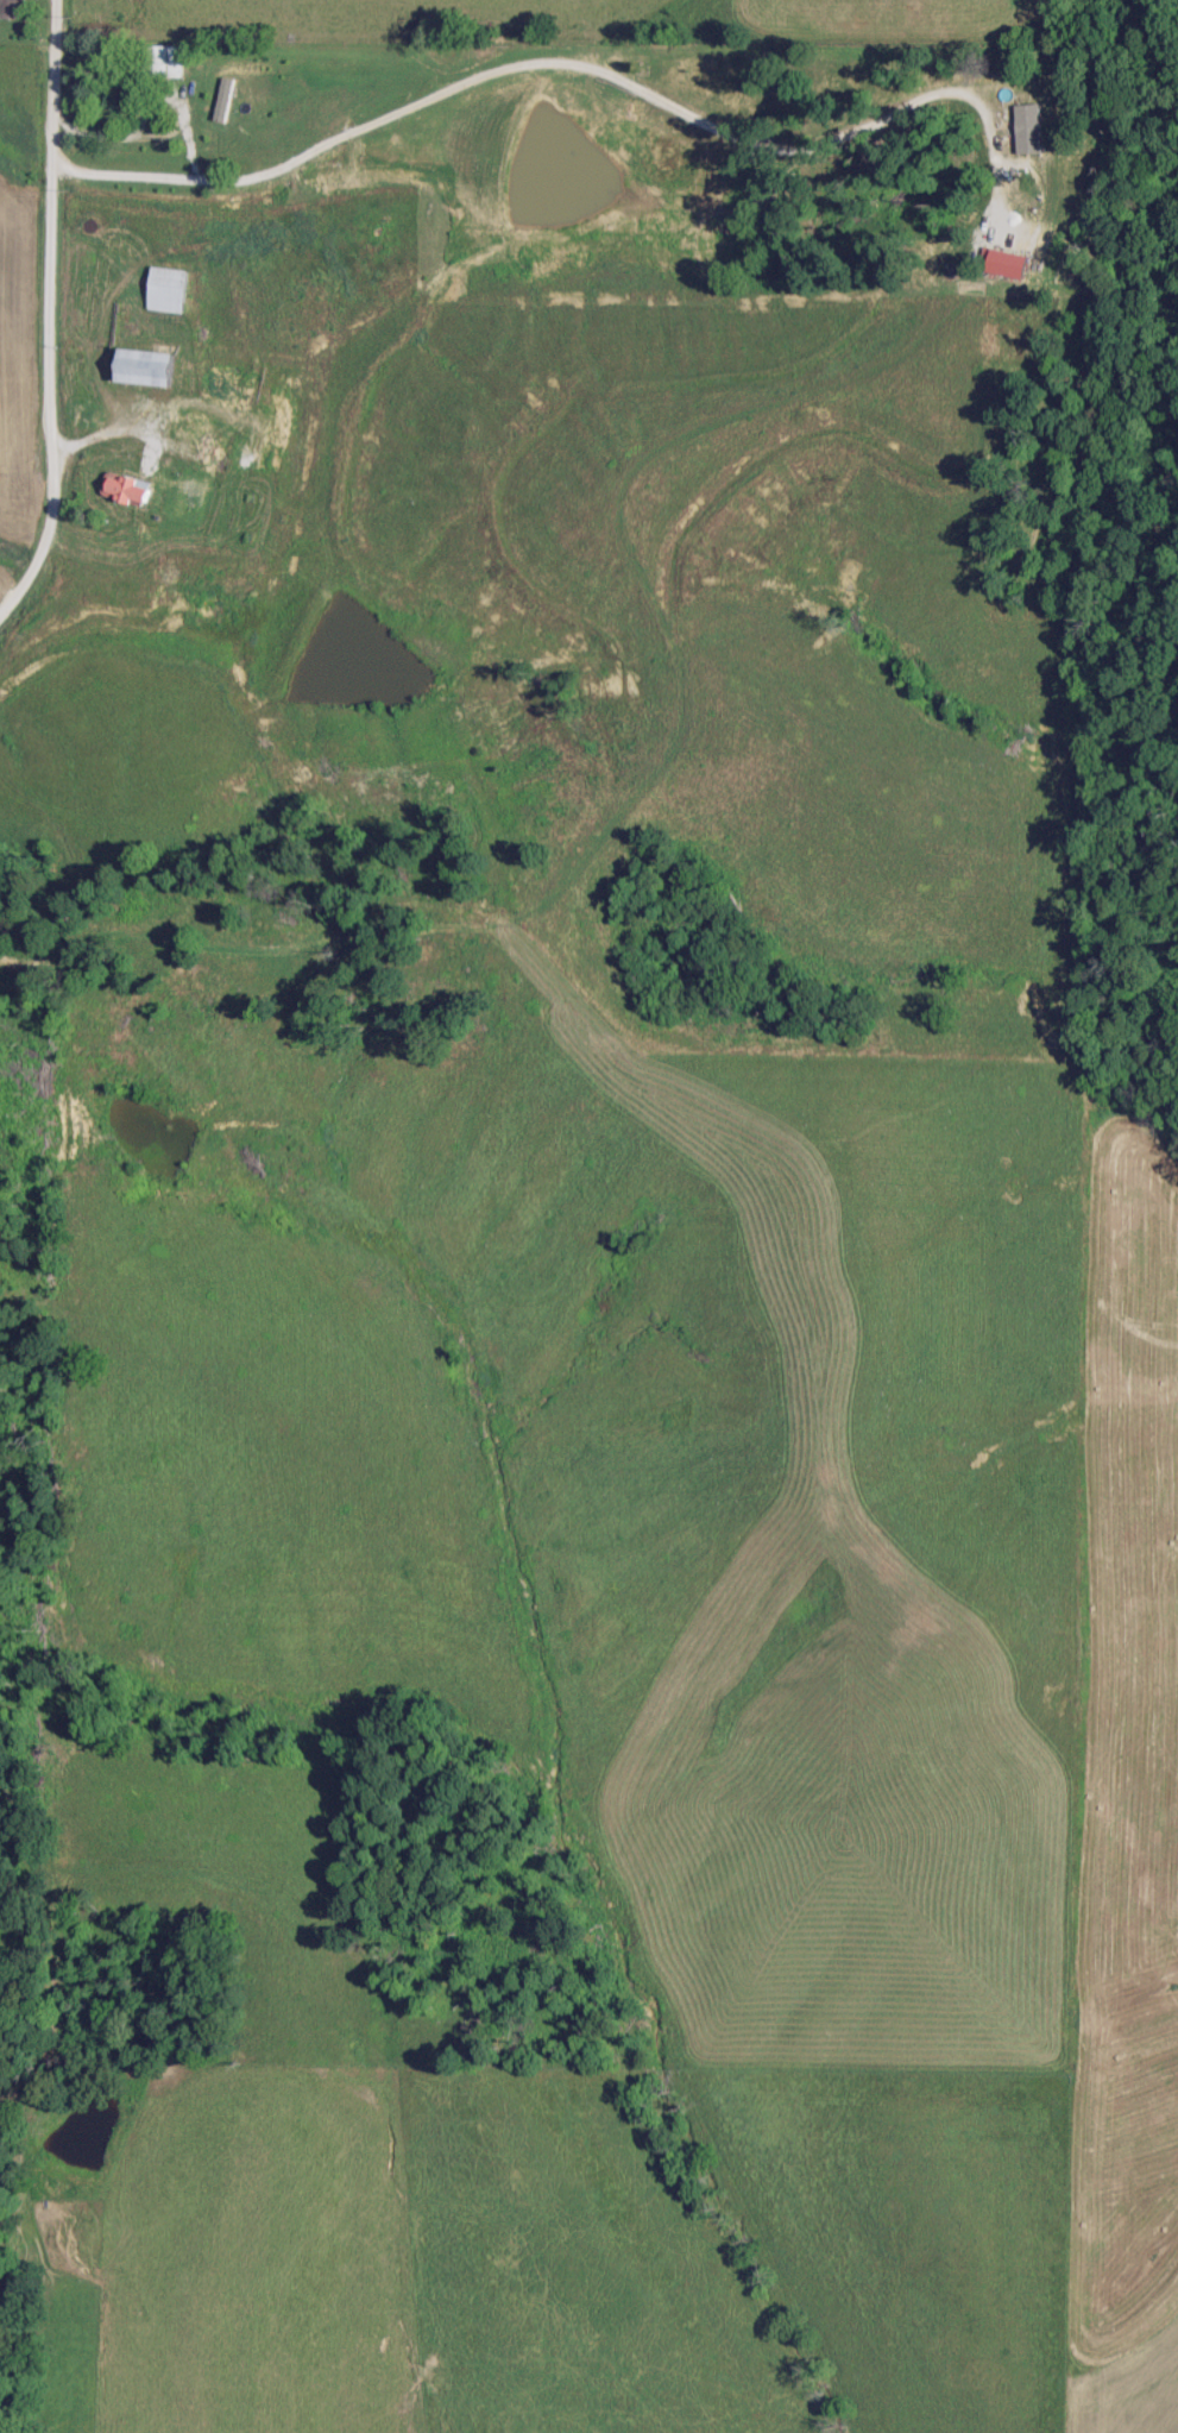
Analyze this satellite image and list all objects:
building: (11, 8)
building: (165, 59)
road: (568, 64)
building: (124, 101)
building: (266, 155)
building: (165, 288)
road: (49, 310)
building: (144, 366)
building: (227, 389)
building: (82, 415)
building: (189, 422)
building: (248, 455)
building: (212, 457)
building: (124, 489)

